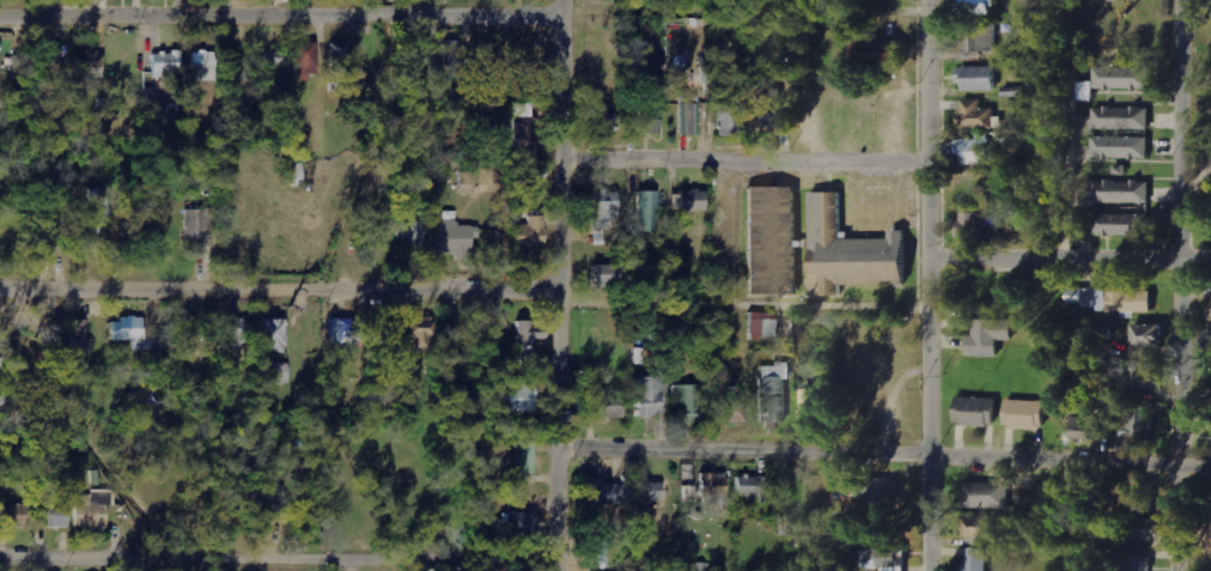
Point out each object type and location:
building: (976, 7)
road: (280, 16)
building: (979, 38)
building: (0, 47)
building: (882, 53)
building: (420, 54)
building: (340, 57)
building: (455, 57)
building: (305, 61)
building: (55, 63)
building: (90, 63)
building: (166, 63)
building: (202, 63)
park: (1198, 63)
building: (261, 65)
building: (647, 65)
building: (976, 78)
building: (1122, 78)
building: (1085, 91)
building: (769, 108)
building: (975, 114)
building: (1121, 117)
building: (730, 119)
building: (603, 123)
building: (649, 127)
building: (523, 132)
building: (1121, 147)
building: (978, 151)
road: (741, 160)
building: (467, 183)
building: (1122, 192)
building: (694, 201)
building: (675, 202)
building: (97, 209)
building: (647, 212)
building: (604, 217)
building: (975, 223)
building: (1121, 224)
building: (200, 227)
building: (51, 233)
building: (531, 233)
building: (414, 237)
building: (458, 238)
building: (772, 241)
building: (851, 251)
road: (1066, 260)
building: (607, 275)
road: (559, 285)
road: (924, 285)
road: (1179, 285)
road: (279, 288)
building: (1112, 299)
building: (1210, 309)
building: (763, 327)
building: (235, 330)
building: (129, 332)
building: (341, 332)
building: (381, 333)
building: (80, 334)
building: (273, 335)
building: (419, 335)
building: (1148, 335)
building: (987, 336)
building: (530, 338)
building: (276, 372)
building: (1144, 375)
building: (773, 393)
building: (647, 396)
building: (516, 399)
building: (687, 401)
building: (604, 405)
building: (814, 405)
building: (734, 412)
building: (975, 412)
building: (1026, 414)
building: (1136, 424)
building: (1082, 427)
road: (884, 455)
building: (524, 458)
building: (751, 487)
building: (713, 488)
building: (651, 491)
building: (607, 493)
building: (882, 494)
building: (986, 494)
building: (1136, 496)
building: (269, 503)
building: (91, 510)
building: (53, 512)
building: (17, 515)
building: (518, 524)
building: (981, 527)
building: (1142, 529)
building: (600, 553)
road: (278, 555)
building: (883, 559)
building: (976, 559)
building: (1139, 564)
building: (430, 570)

